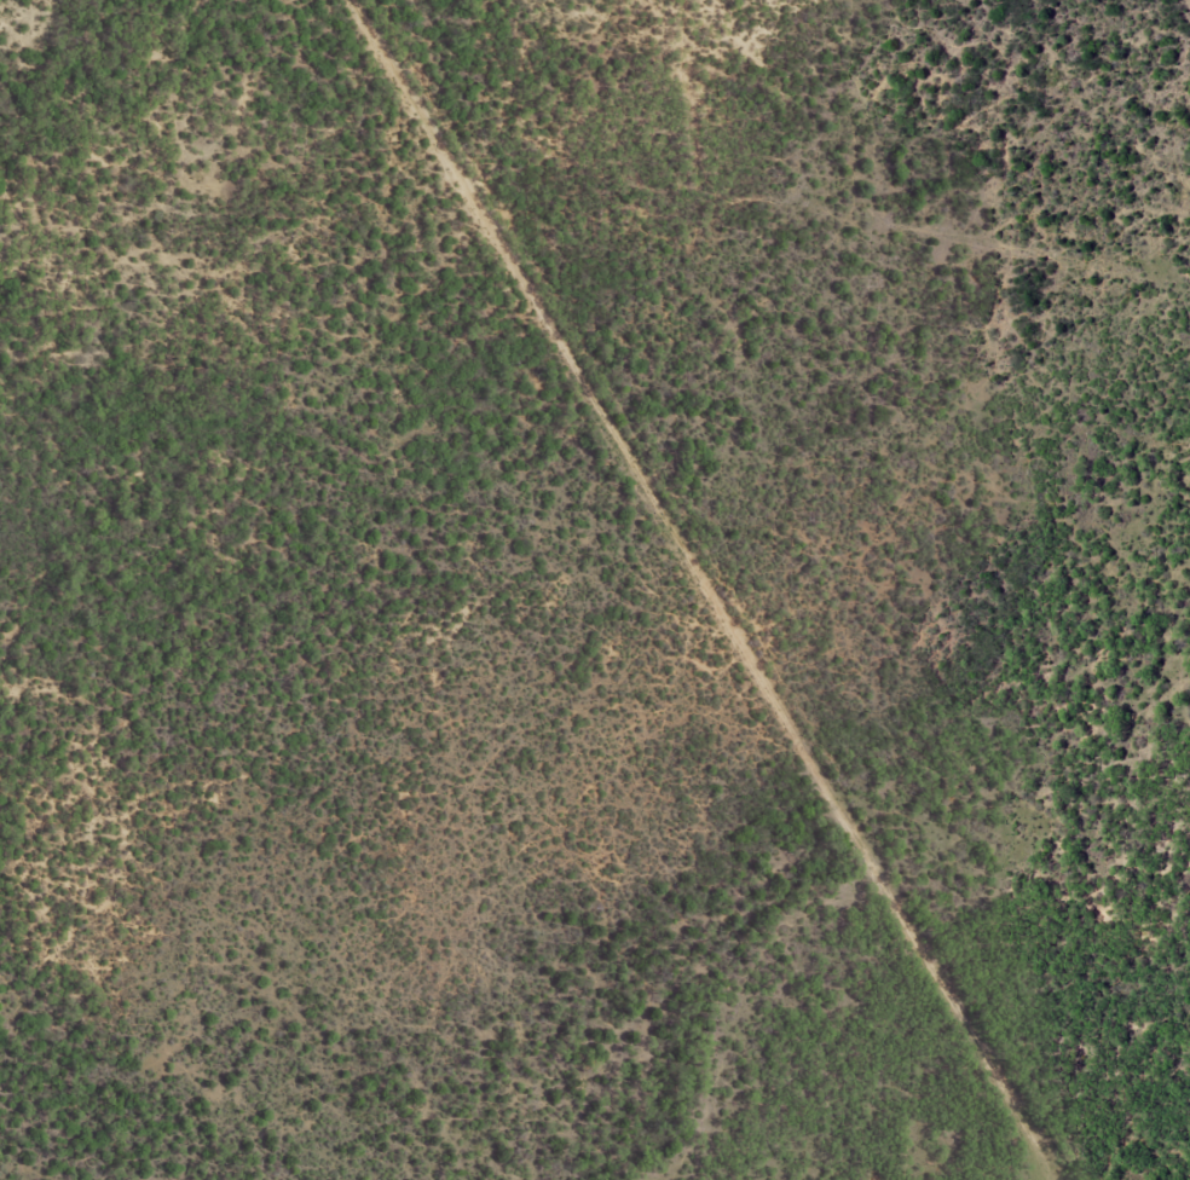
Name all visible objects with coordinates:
road: (953, 265)
road: (854, 594)

